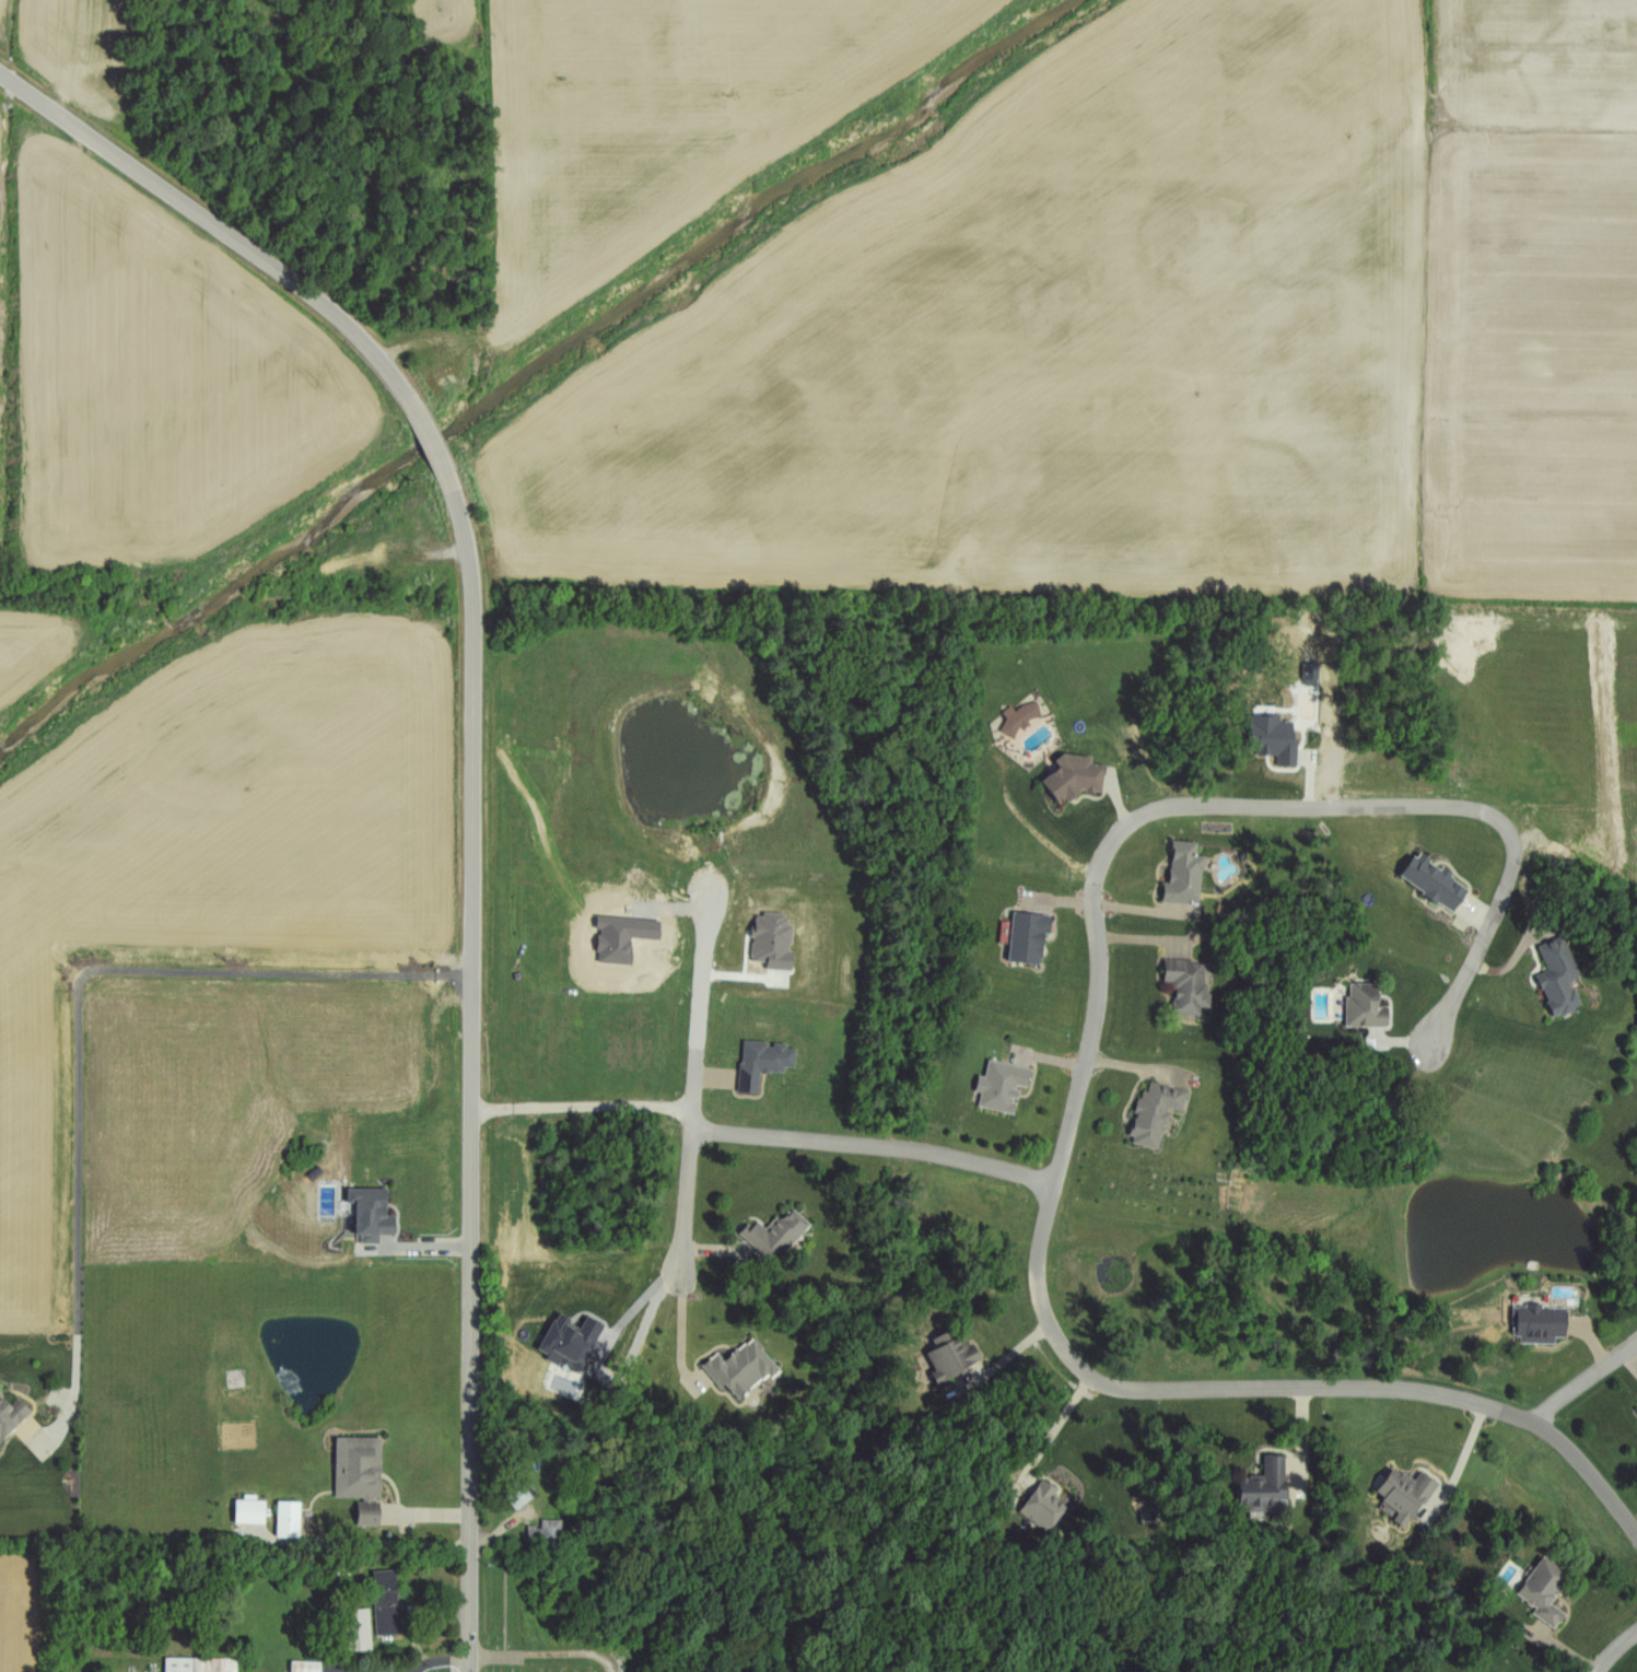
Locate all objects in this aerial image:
crop: (447, 12)
crop: (3, 24)
crop: (87, 51)
crop: (1531, 61)
crop: (634, 97)
crop: (1068, 349)
crop: (1527, 358)
crop: (150, 375)
crop: (33, 648)
crop: (1544, 703)
building: (1018, 717)
building: (1271, 738)
road: (468, 769)
building: (1071, 776)
crop: (215, 860)
building: (1182, 874)
building: (1429, 880)
building: (1025, 936)
building: (771, 942)
building: (1555, 979)
building: (1185, 990)
building: (1363, 1008)
road: (78, 1016)
building: (761, 1062)
building: (999, 1085)
road: (695, 1086)
road: (1077, 1090)
road: (581, 1103)
building: (1154, 1112)
crop: (273, 1124)
road: (875, 1146)
building: (366, 1215)
building: (772, 1233)
building: (1535, 1323)
building: (566, 1341)
building: (946, 1358)
road: (1002, 1359)
building: (739, 1369)
road: (1585, 1383)
building: (11, 1413)
road: (1056, 1429)
building: (359, 1464)
building: (1265, 1486)
building: (521, 1494)
building: (1402, 1494)
building: (1044, 1499)
building: (246, 1512)
building: (365, 1515)
building: (288, 1518)
building: (551, 1528)
building: (1542, 1591)
building: (386, 1595)
crop: (13, 1611)
building: (355, 1627)
road: (1614, 1649)
road: (543, 1651)
building: (202, 1662)
building: (304, 1664)

